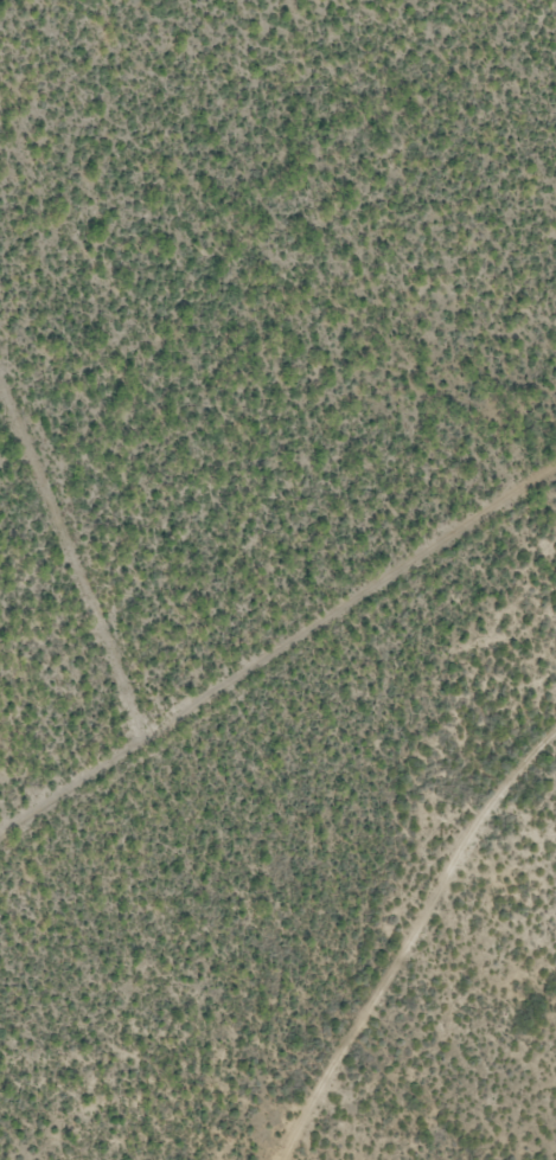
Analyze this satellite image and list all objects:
road: (414, 940)

